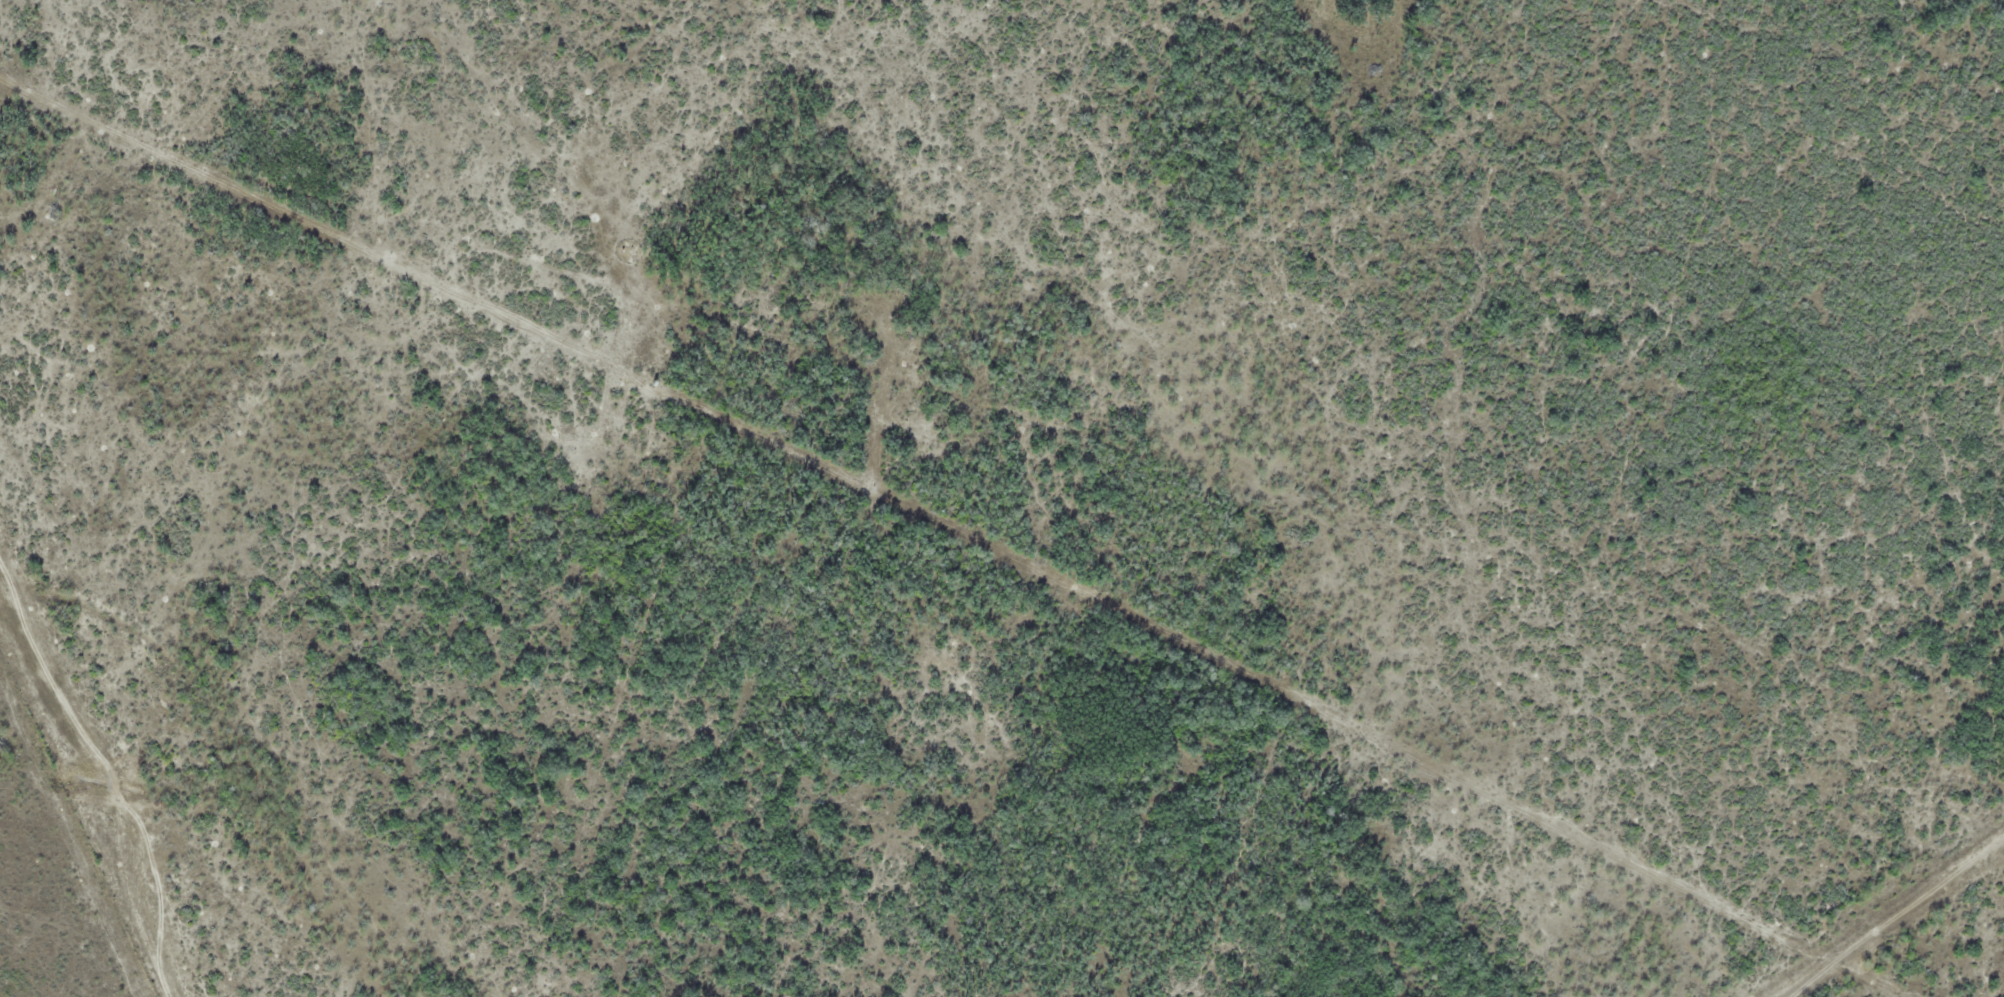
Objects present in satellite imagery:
road: (73, 854)

